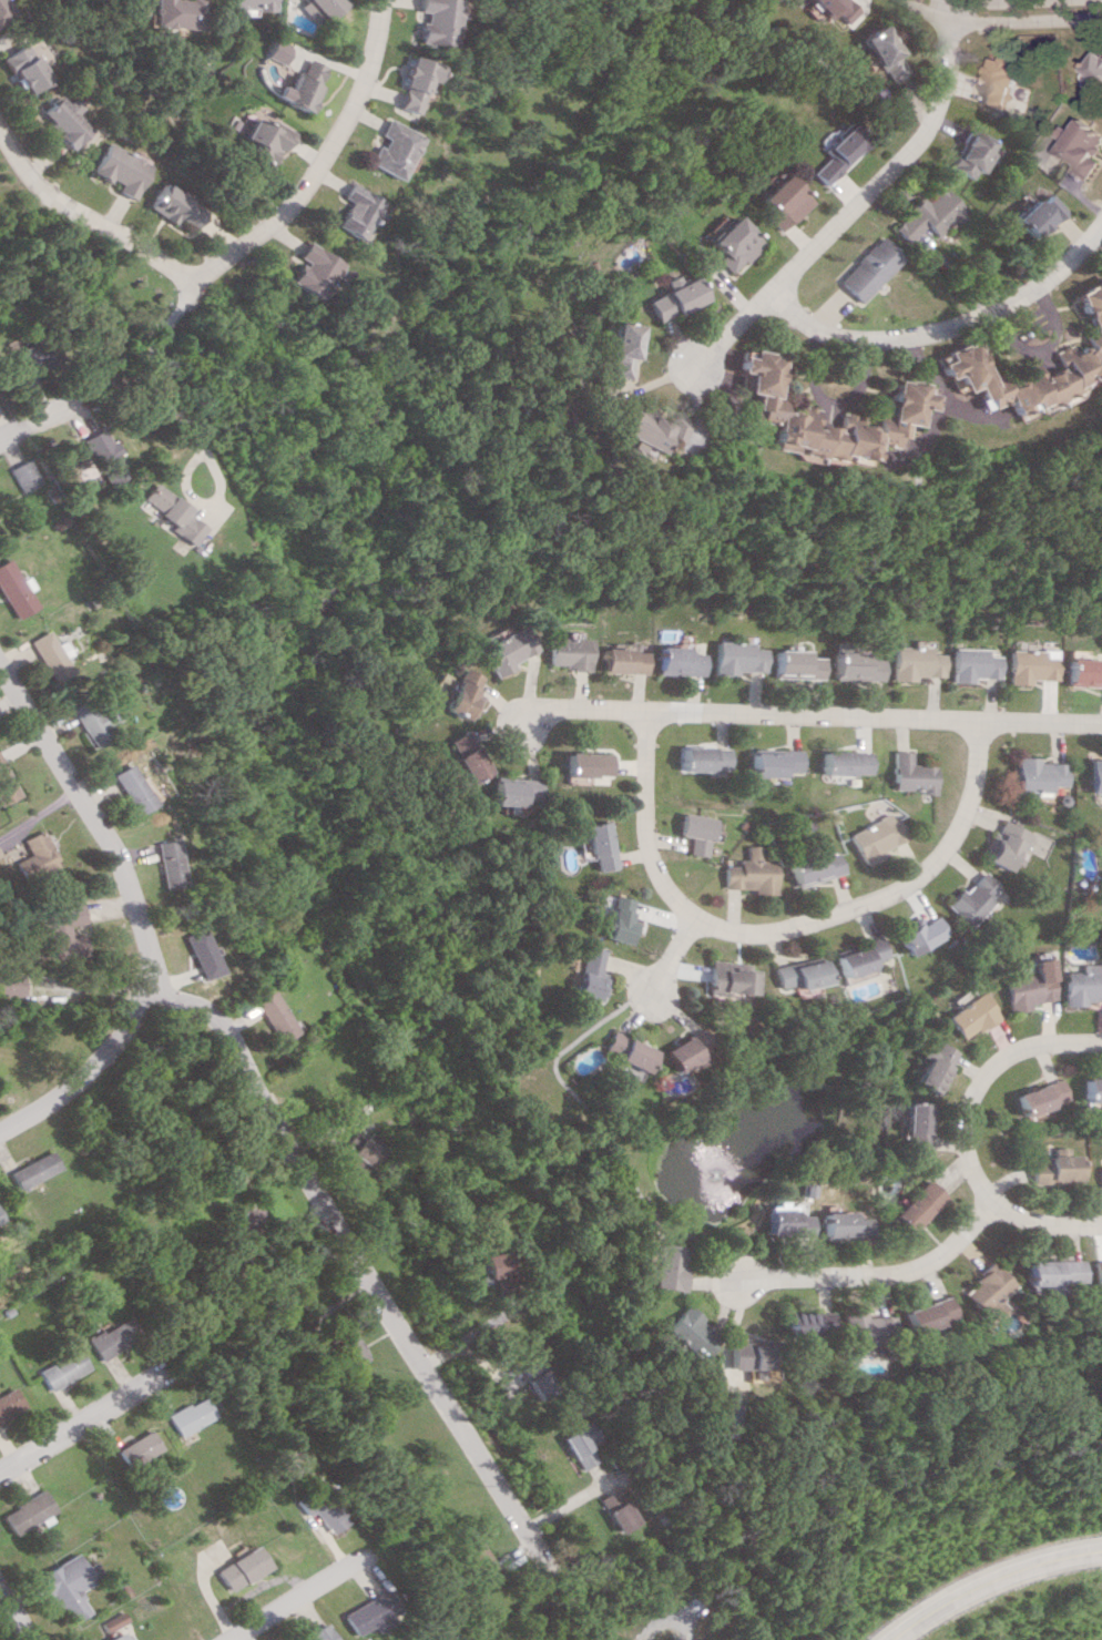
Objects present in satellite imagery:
road: (1028, 1)
building: (245, 4)
building: (830, 9)
building: (1, 13)
building: (170, 13)
road: (1002, 20)
building: (432, 21)
building: (273, 51)
building: (880, 52)
building: (18, 68)
building: (999, 82)
building: (408, 84)
building: (296, 85)
building: (60, 121)
building: (257, 139)
building: (1082, 147)
building: (386, 149)
building: (971, 153)
building: (835, 154)
road: (314, 162)
building: (116, 169)
building: (779, 202)
road: (855, 203)
building: (169, 205)
building: (348, 211)
building: (1035, 215)
road: (84, 216)
building: (928, 217)
building: (731, 244)
building: (868, 268)
building: (305, 269)
building: (670, 297)
road: (942, 328)
road: (1031, 346)
building: (1086, 347)
building: (618, 348)
building: (17, 356)
road: (147, 371)
road: (824, 400)
building: (901, 406)
road: (29, 411)
road: (0, 428)
building: (641, 428)
building: (91, 456)
building: (14, 475)
building: (162, 511)
building: (11, 592)
building: (502, 651)
building: (567, 652)
building: (45, 655)
building: (739, 658)
building: (624, 661)
building: (681, 661)
building: (912, 663)
building: (797, 664)
building: (970, 664)
building: (1029, 665)
building: (855, 666)
building: (1082, 672)
building: (458, 695)
road: (807, 716)
building: (86, 721)
building: (461, 756)
building: (708, 758)
building: (775, 762)
building: (844, 762)
building: (586, 764)
building: (908, 774)
building: (1033, 774)
building: (1092, 776)
building: (3, 788)
building: (125, 788)
building: (511, 791)
road: (90, 825)
building: (700, 832)
building: (871, 837)
building: (598, 844)
building: (1001, 845)
building: (1100, 849)
building: (30, 854)
building: (161, 864)
building: (814, 867)
building: (752, 873)
building: (967, 898)
building: (616, 919)
road: (784, 928)
building: (60, 930)
building: (915, 934)
building: (190, 954)
road: (670, 957)
building: (855, 957)
building: (583, 974)
building: (796, 974)
building: (731, 976)
building: (7, 984)
building: (1082, 985)
building: (1028, 987)
building: (266, 1016)
building: (968, 1016)
building: (678, 1050)
building: (619, 1052)
building: (576, 1062)
building: (931, 1065)
road: (80, 1070)
building: (1092, 1089)
building: (1041, 1097)
building: (914, 1125)
road: (590, 1130)
road: (965, 1135)
building: (359, 1150)
building: (31, 1170)
building: (1052, 1170)
building: (1100, 1176)
building: (916, 1205)
building: (244, 1220)
building: (785, 1222)
building: (844, 1225)
road: (357, 1262)
building: (660, 1265)
building: (488, 1272)
road: (871, 1274)
building: (1045, 1274)
building: (1093, 1277)
road: (287, 1282)
building: (981, 1291)
building: (924, 1314)
building: (806, 1322)
building: (863, 1328)
building: (683, 1333)
building: (108, 1338)
building: (353, 1346)
building: (742, 1356)
building: (59, 1369)
building: (530, 1377)
building: (9, 1402)
building: (185, 1416)
road: (83, 1420)
building: (578, 1444)
building: (134, 1448)
building: (286, 1469)
building: (318, 1509)
building: (613, 1509)
building: (23, 1512)
building: (483, 1562)
building: (239, 1568)
road: (984, 1578)
building: (63, 1586)
road: (293, 1597)
building: (359, 1613)
road: (12, 1618)
building: (108, 1620)
road: (640, 1632)
building: (314, 1634)
building: (111, 1637)
building: (671, 1639)

